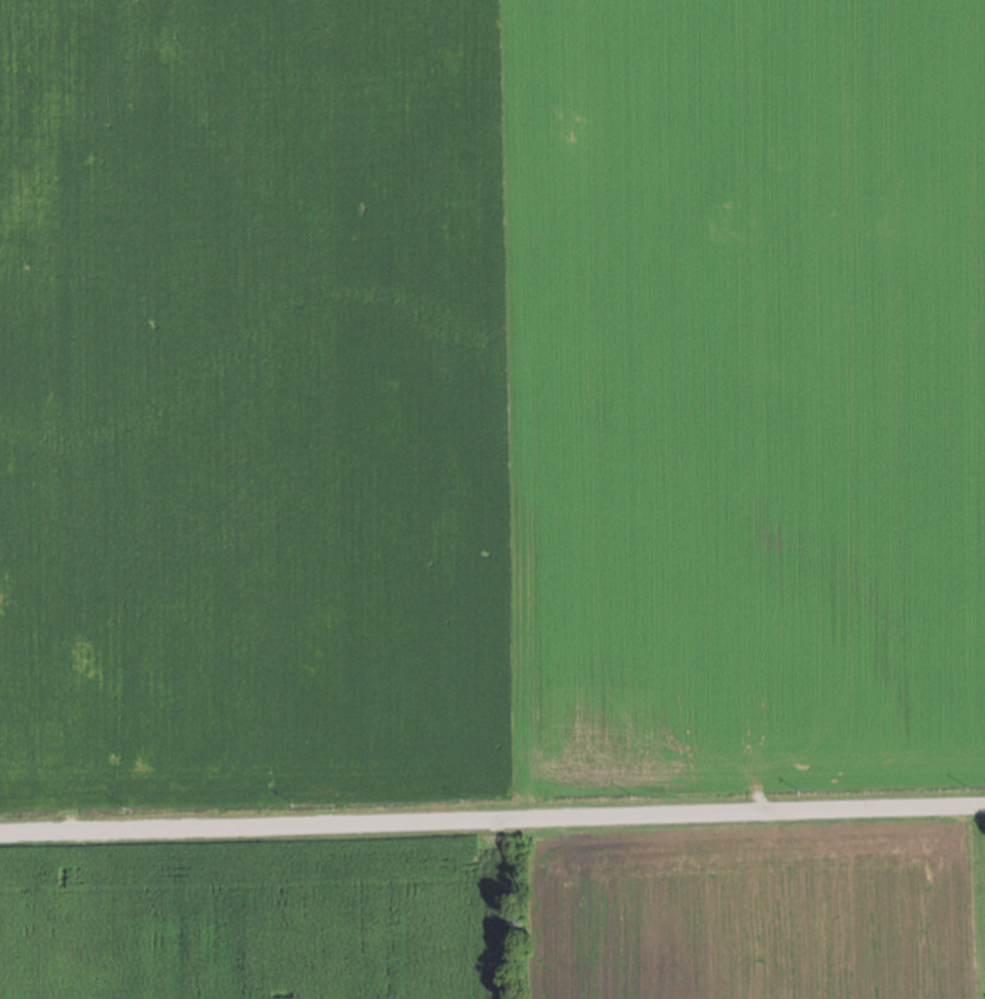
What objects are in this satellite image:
road: (492, 812)

